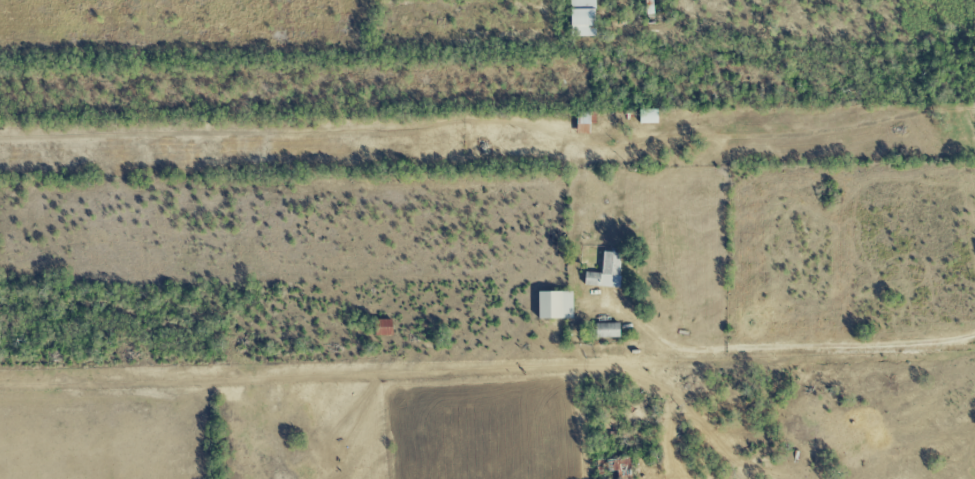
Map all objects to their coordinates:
building: (581, 18)
building: (647, 117)
building: (584, 122)
building: (604, 272)
building: (554, 305)
building: (382, 328)
building: (606, 331)
road: (803, 346)

